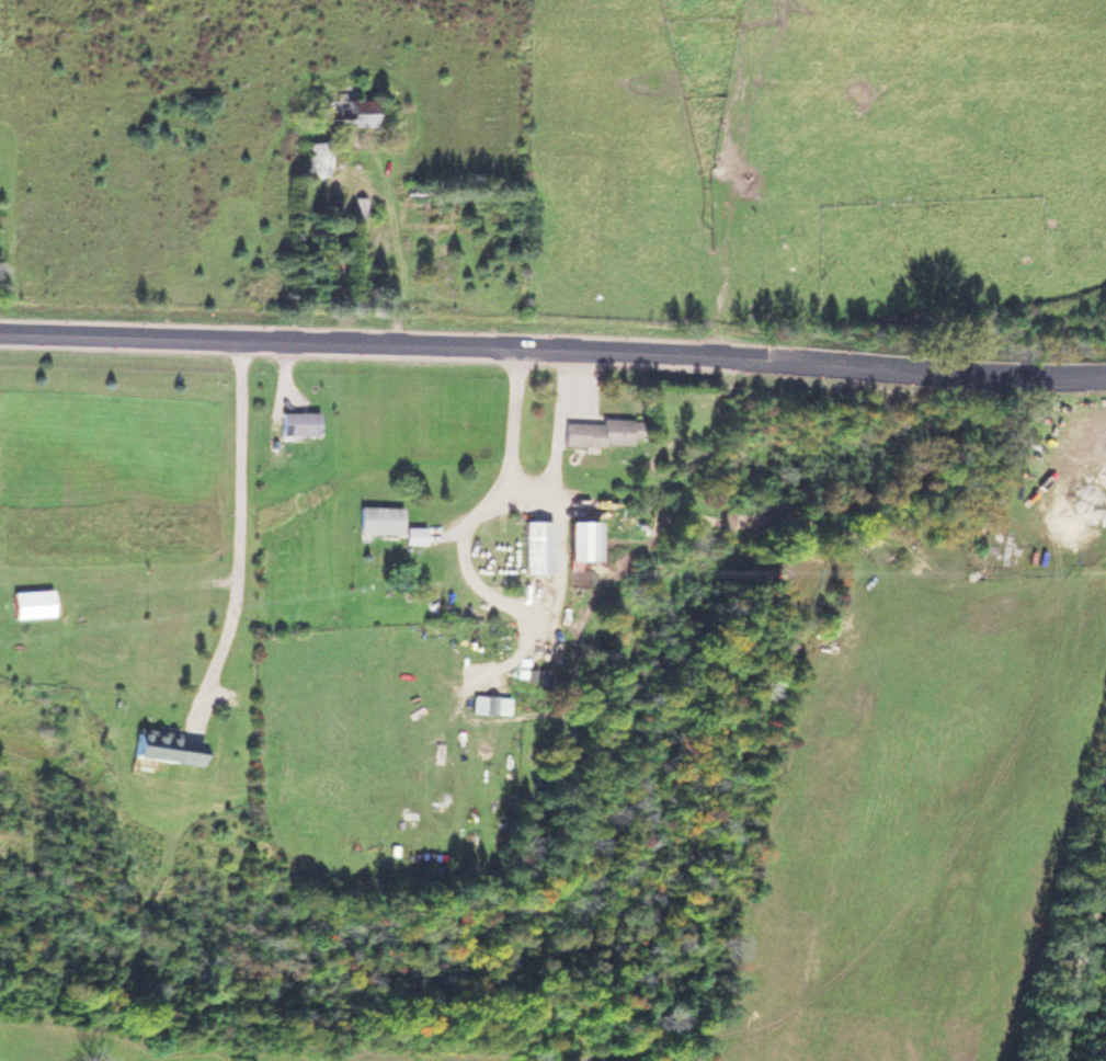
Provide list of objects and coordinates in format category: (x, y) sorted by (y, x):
building: (342, 110)
building: (315, 153)
road: (552, 345)
building: (294, 421)
building: (595, 431)
building: (375, 517)
building: (410, 534)
building: (578, 538)
building: (534, 545)
building: (27, 603)
building: (164, 745)
road: (1079, 951)

